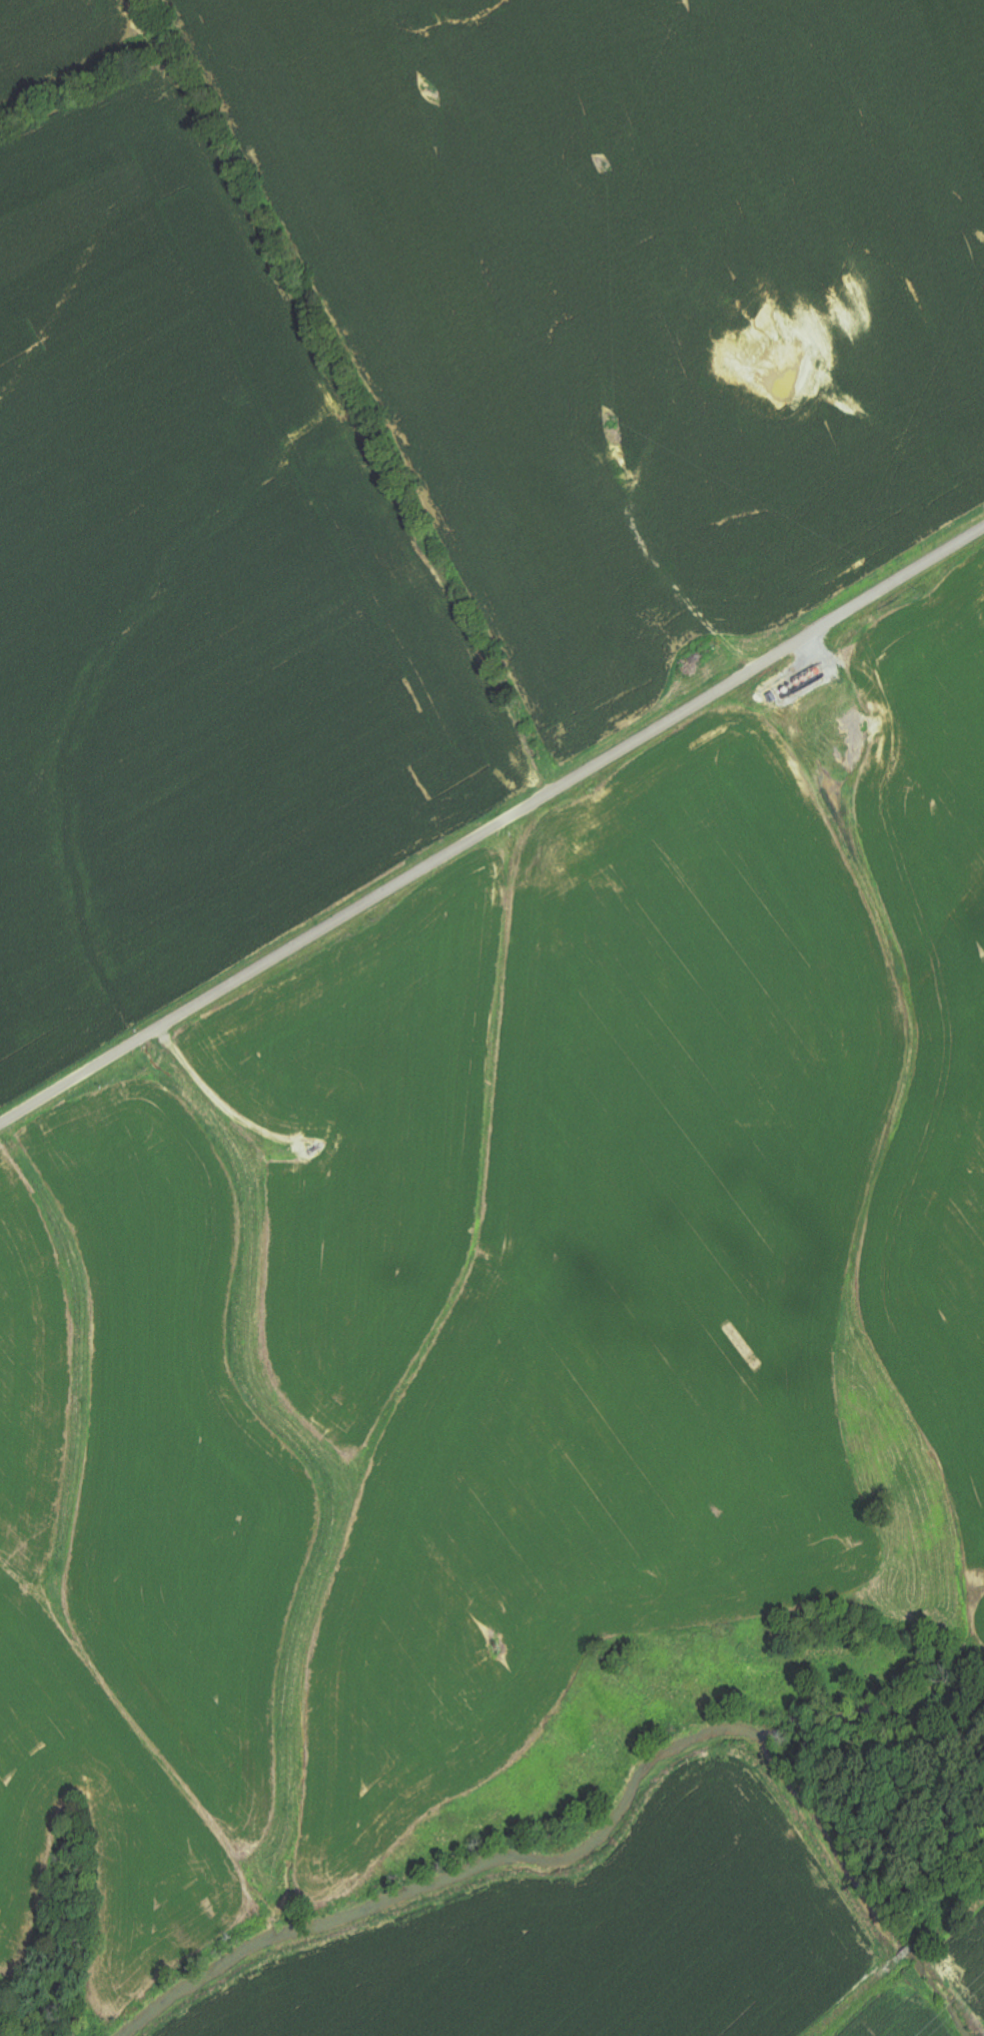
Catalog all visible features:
road: (492, 829)

